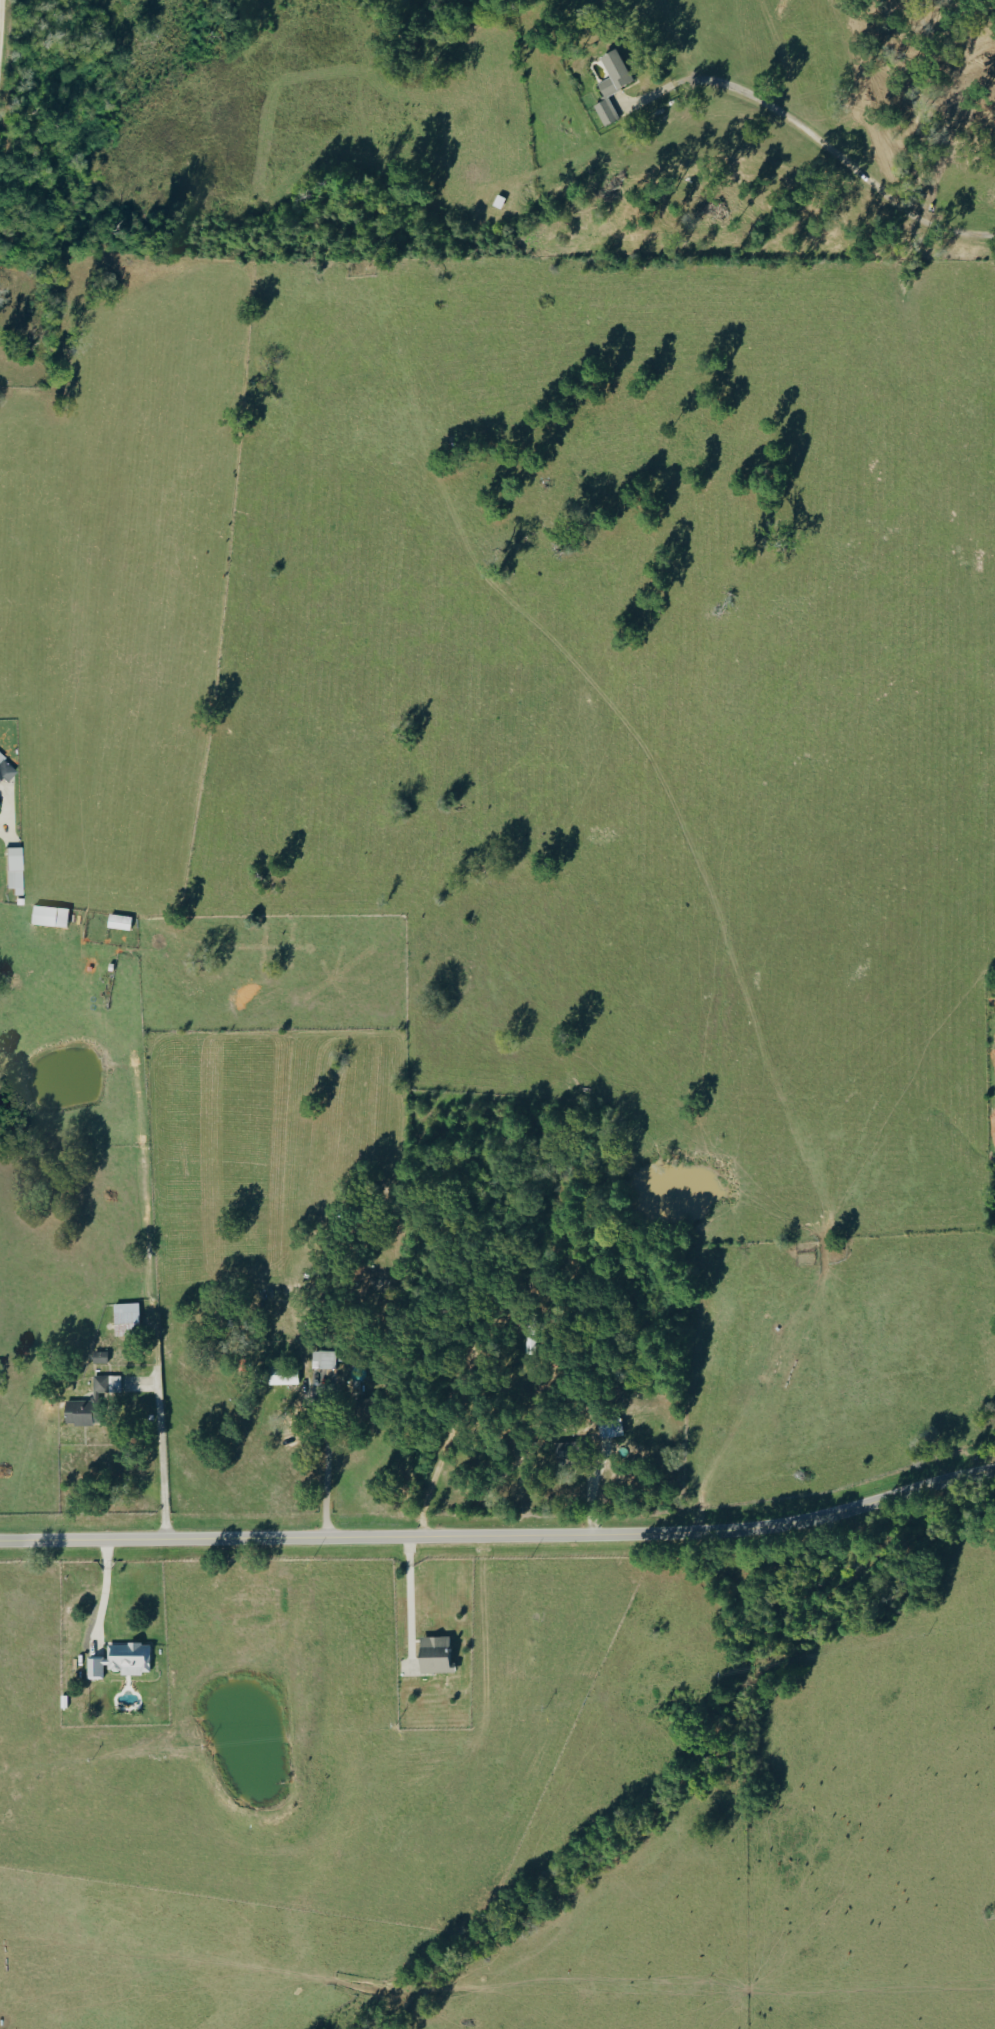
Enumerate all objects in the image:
building: (608, 83)
road: (815, 138)
park: (0, 158)
park: (23, 317)
building: (7, 769)
road: (4, 806)
building: (17, 870)
building: (54, 916)
building: (123, 922)
building: (122, 1313)
building: (96, 1356)
building: (320, 1359)
building: (279, 1375)
building: (104, 1384)
building: (358, 1409)
building: (74, 1412)
road: (165, 1447)
building: (563, 1449)
road: (331, 1472)
road: (428, 1481)
road: (502, 1531)
road: (101, 1589)
road: (414, 1602)
building: (430, 1654)
building: (118, 1660)

